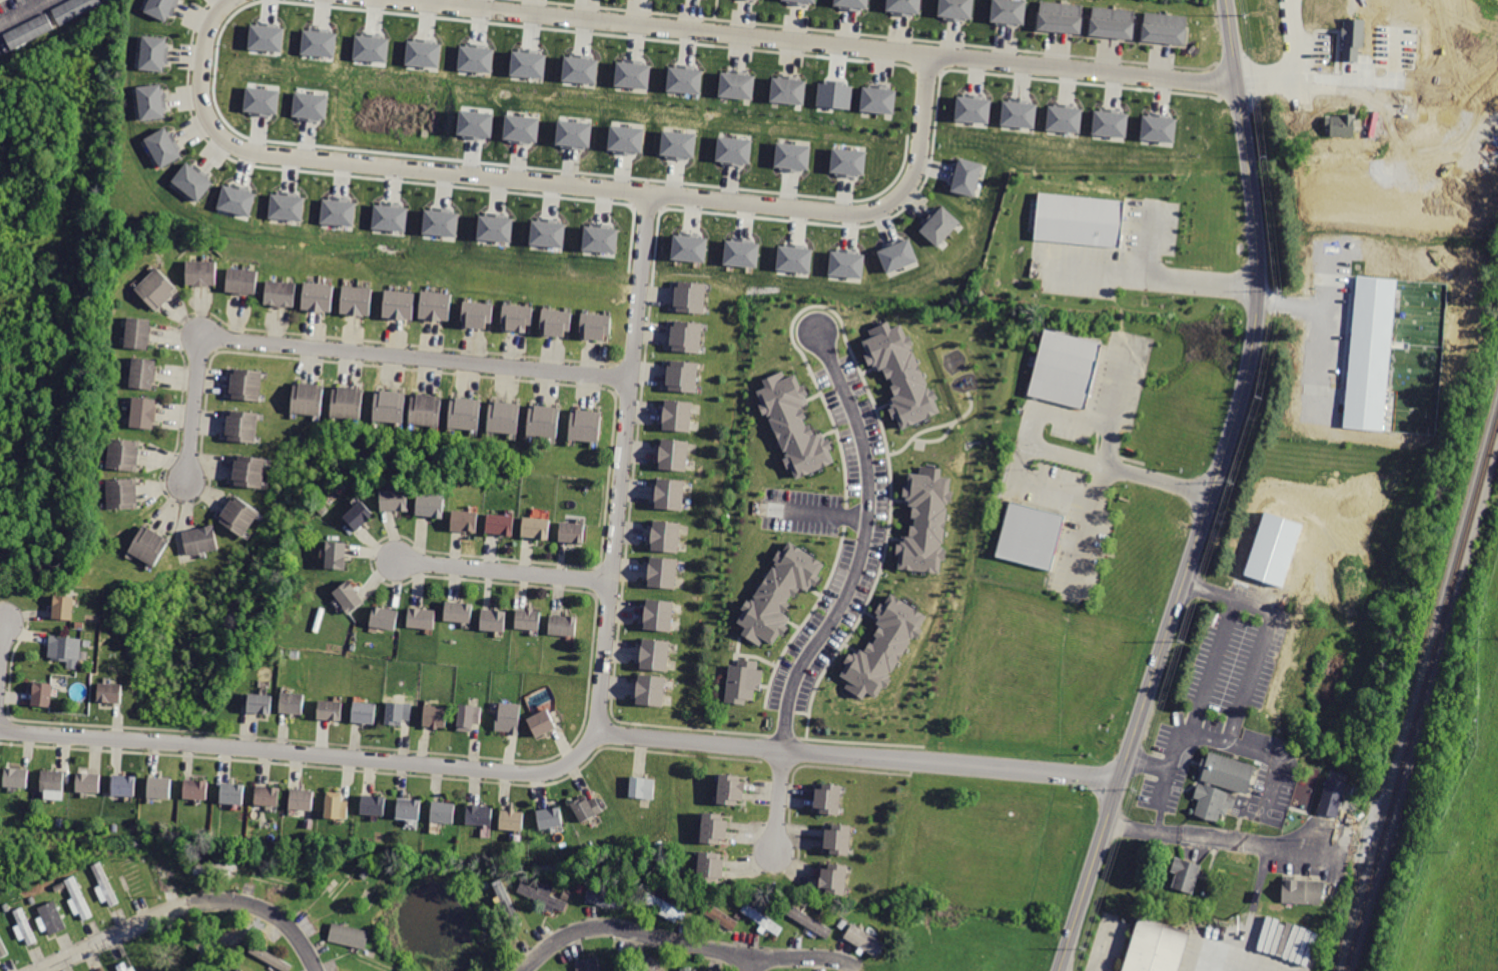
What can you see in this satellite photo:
building: (801, 1)
building: (853, 4)
building: (906, 6)
building: (75, 8)
building: (159, 8)
building: (957, 8)
road: (24, 12)
building: (1011, 12)
building: (1060, 15)
building: (1113, 21)
road: (668, 28)
building: (1165, 28)
building: (29, 31)
building: (266, 37)
building: (1352, 39)
building: (319, 42)
building: (371, 47)
building: (423, 53)
building: (153, 54)
building: (475, 58)
building: (528, 63)
road: (1295, 67)
building: (580, 69)
road: (1083, 72)
building: (632, 74)
building: (684, 79)
building: (736, 85)
building: (788, 89)
building: (834, 95)
building: (880, 99)
building: (261, 100)
building: (1427, 101)
building: (151, 102)
building: (310, 105)
building: (972, 109)
building: (1018, 113)
building: (1063, 118)
building: (1109, 122)
building: (475, 123)
building: (1340, 125)
building: (521, 128)
building: (1158, 128)
building: (573, 133)
building: (625, 138)
building: (678, 143)
building: (164, 146)
building: (733, 149)
building: (792, 155)
building: (847, 161)
building: (966, 176)
building: (192, 181)
road: (557, 182)
building: (236, 200)
building: (286, 205)
building: (338, 211)
building: (390, 217)
building: (440, 222)
building: (1082, 223)
building: (940, 226)
building: (494, 227)
building: (547, 233)
building: (600, 238)
building: (689, 247)
building: (741, 252)
building: (897, 255)
building: (794, 258)
building: (846, 263)
road: (1156, 264)
road: (1324, 265)
building: (202, 273)
building: (244, 281)
building: (157, 289)
building: (282, 295)
road: (1320, 295)
building: (319, 297)
building: (692, 297)
building: (358, 300)
building: (399, 304)
building: (437, 305)
building: (479, 314)
building: (518, 317)
building: (557, 322)
building: (596, 326)
building: (138, 332)
building: (688, 336)
road: (344, 350)
building: (1370, 352)
building: (1067, 370)
building: (145, 372)
building: (900, 373)
building: (685, 376)
building: (247, 384)
road: (1121, 385)
building: (309, 398)
building: (348, 401)
building: (391, 405)
building: (427, 410)
building: (144, 413)
building: (466, 414)
building: (678, 415)
building: (505, 416)
road: (1075, 419)
building: (544, 420)
building: (793, 423)
building: (587, 424)
building: (244, 427)
road: (1042, 448)
building: (124, 454)
building: (674, 454)
building: (250, 471)
building: (123, 493)
building: (669, 494)
road: (1209, 494)
building: (396, 500)
road: (820, 504)
building: (431, 506)
building: (240, 515)
building: (358, 515)
building: (465, 520)
building: (925, 520)
building: (501, 524)
building: (536, 527)
building: (573, 532)
building: (666, 536)
building: (1031, 537)
building: (201, 538)
road: (864, 541)
building: (148, 546)
road: (1081, 547)
building: (338, 556)
road: (502, 571)
building: (663, 572)
building: (779, 593)
building: (349, 595)
road: (1252, 604)
building: (64, 607)
building: (458, 611)
building: (659, 614)
building: (422, 616)
building: (493, 617)
building: (384, 618)
building: (528, 619)
building: (563, 623)
road: (1, 637)
building: (883, 647)
building: (66, 649)
building: (655, 654)
road: (1211, 659)
building: (743, 680)
building: (652, 691)
building: (110, 693)
building: (42, 695)
railway: (1421, 696)
road: (1240, 697)
building: (294, 702)
building: (261, 703)
building: (331, 710)
building: (365, 712)
building: (399, 712)
building: (469, 715)
building: (437, 716)
building: (508, 717)
building: (542, 722)
road: (856, 757)
road: (572, 759)
building: (18, 777)
road: (1166, 777)
building: (54, 781)
building: (89, 782)
building: (126, 784)
building: (1222, 784)
building: (161, 787)
building: (197, 787)
building: (644, 788)
building: (732, 788)
building: (234, 791)
building: (268, 796)
building: (1331, 796)
building: (303, 799)
building: (827, 800)
road: (778, 802)
building: (374, 804)
building: (336, 806)
building: (589, 807)
building: (409, 808)
building: (443, 812)
building: (481, 814)
building: (550, 818)
building: (511, 819)
building: (717, 828)
road: (1211, 837)
building: (839, 840)
building: (711, 866)
building: (1186, 872)
building: (834, 877)
building: (275, 880)
building: (104, 884)
building: (344, 884)
building: (1305, 891)
building: (545, 894)
building: (604, 897)
building: (79, 898)
building: (506, 901)
building: (665, 905)
road: (184, 906)
building: (716, 912)
building: (53, 917)
building: (763, 919)
building: (808, 920)
building: (26, 925)
building: (348, 935)
building: (222, 937)
building: (863, 939)
road: (685, 944)
building: (1152, 948)
building: (4, 949)
building: (270, 958)
building: (592, 964)
road: (747, 964)
road: (1244, 965)
building: (123, 967)
building: (688, 968)
building: (624, 969)

